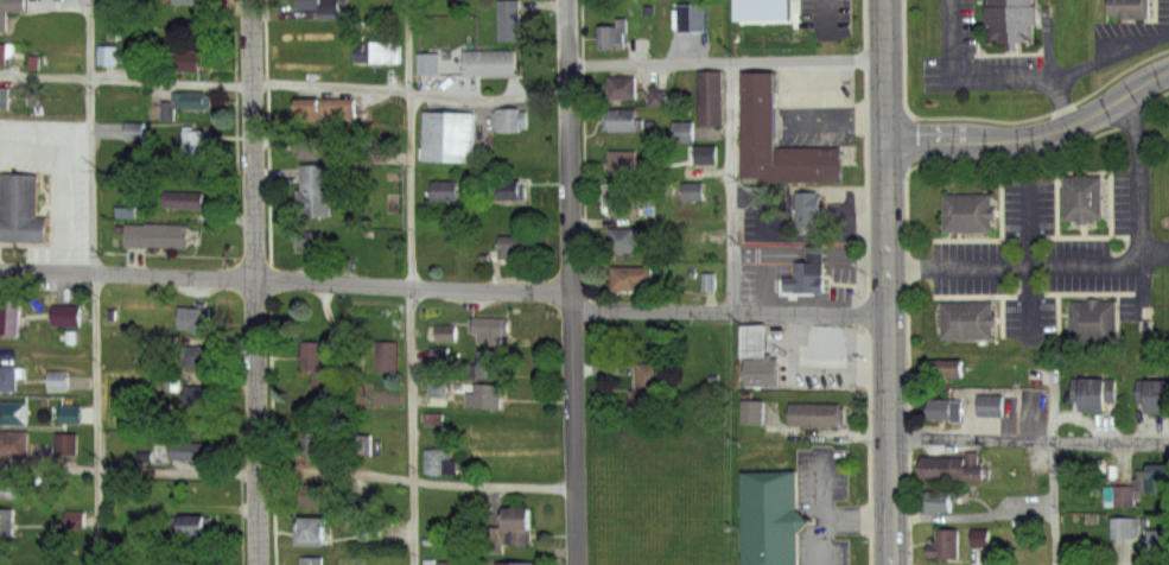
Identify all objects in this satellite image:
building: (189, 0)
building: (329, 6)
building: (1131, 8)
building: (9, 9)
building: (788, 17)
building: (509, 20)
building: (1012, 20)
building: (612, 36)
building: (2, 53)
building: (377, 55)
building: (107, 56)
building: (189, 61)
road: (726, 61)
building: (430, 62)
building: (490, 64)
road: (1027, 75)
road: (285, 85)
building: (621, 88)
building: (709, 95)
building: (4, 99)
building: (192, 99)
road: (1062, 102)
building: (761, 109)
building: (329, 114)
building: (504, 120)
building: (624, 121)
building: (678, 131)
road: (1035, 135)
building: (451, 137)
building: (198, 141)
building: (318, 146)
building: (703, 154)
building: (623, 163)
road: (62, 182)
road: (731, 188)
building: (316, 189)
building: (1082, 190)
building: (446, 191)
building: (512, 191)
building: (688, 191)
building: (621, 197)
building: (186, 198)
building: (805, 201)
building: (125, 205)
building: (967, 207)
building: (21, 208)
building: (158, 236)
building: (309, 239)
building: (625, 239)
building: (514, 246)
road: (1098, 261)
building: (808, 265)
building: (630, 277)
road: (286, 280)
road: (96, 281)
road: (255, 281)
road: (412, 281)
road: (571, 282)
road: (888, 282)
building: (9, 310)
building: (1093, 312)
building: (65, 313)
building: (108, 313)
road: (730, 313)
building: (967, 315)
building: (195, 317)
building: (490, 326)
building: (443, 332)
building: (748, 341)
building: (819, 349)
building: (186, 356)
building: (437, 356)
building: (387, 357)
building: (313, 362)
building: (490, 363)
building: (939, 369)
building: (762, 370)
building: (6, 380)
building: (56, 381)
building: (648, 389)
building: (488, 393)
building: (1092, 395)
building: (197, 396)
building: (1155, 396)
building: (991, 405)
building: (814, 408)
building: (748, 412)
building: (13, 413)
building: (940, 413)
building: (66, 414)
building: (431, 421)
road: (1030, 439)
building: (14, 444)
building: (311, 444)
building: (361, 444)
building: (63, 445)
building: (191, 447)
building: (440, 462)
building: (955, 466)
road: (288, 474)
building: (1154, 480)
building: (6, 485)
building: (1119, 495)
building: (313, 497)
crop: (657, 500)
building: (933, 501)
road: (1050, 502)
parking lot: (827, 506)
building: (771, 514)
building: (72, 519)
road: (836, 519)
building: (513, 520)
building: (6, 521)
building: (193, 521)
building: (313, 531)
building: (1132, 531)
building: (371, 532)
building: (974, 538)
building: (945, 542)
building: (1156, 544)
building: (311, 561)
building: (455, 563)
building: (517, 564)

